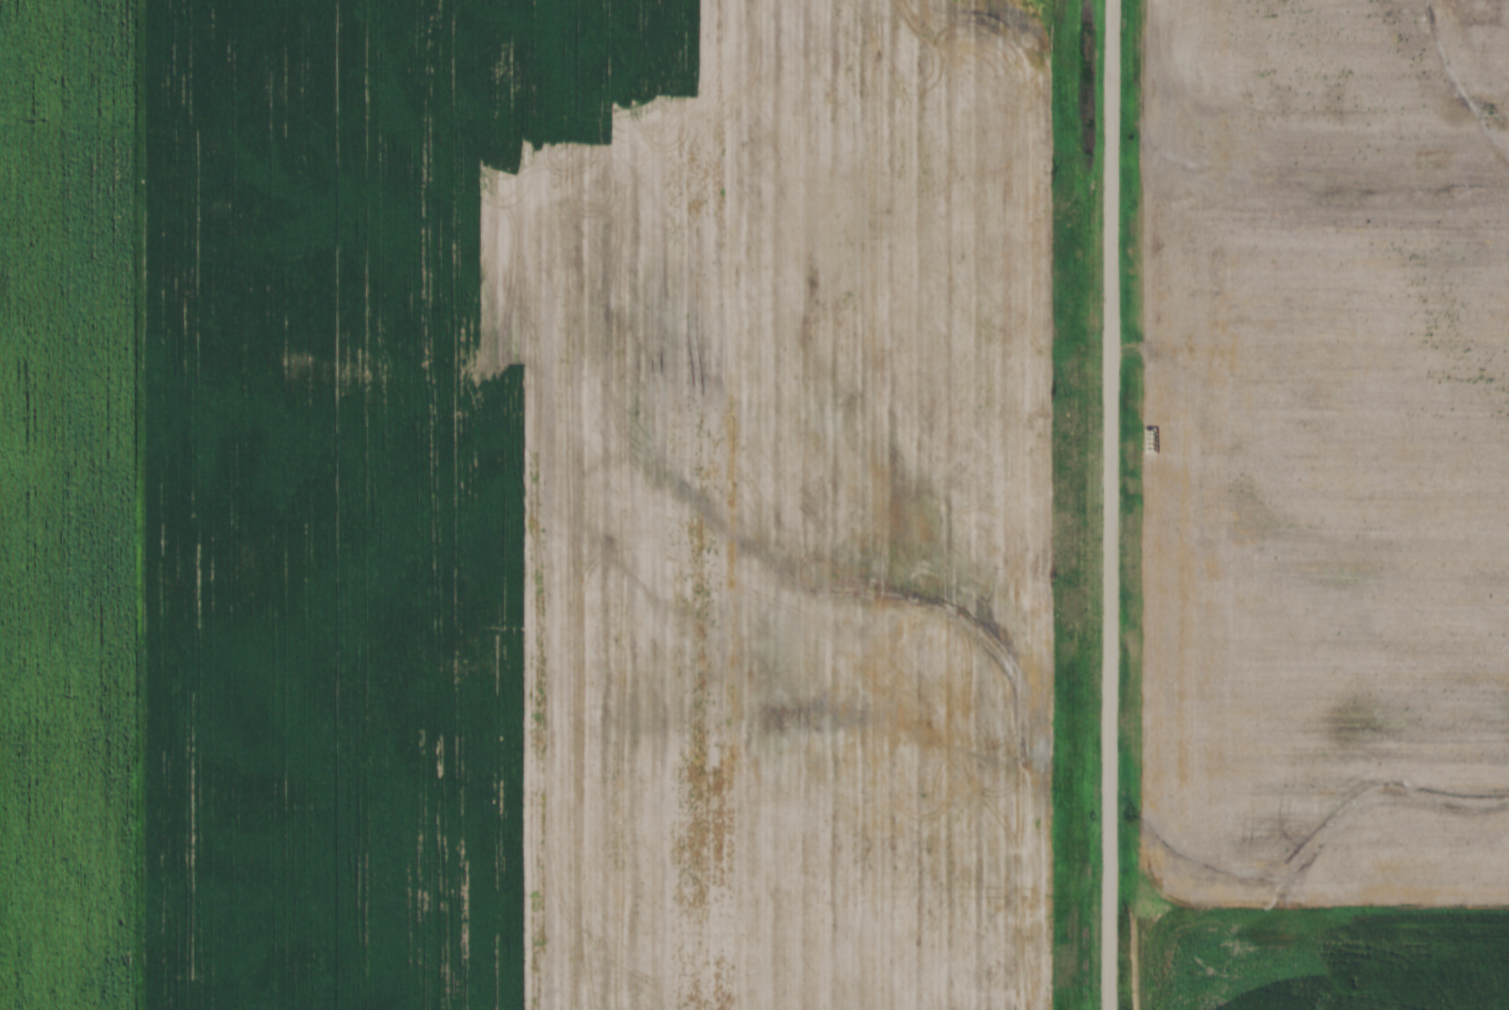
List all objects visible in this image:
road: (1146, 240)
road: (1117, 505)

